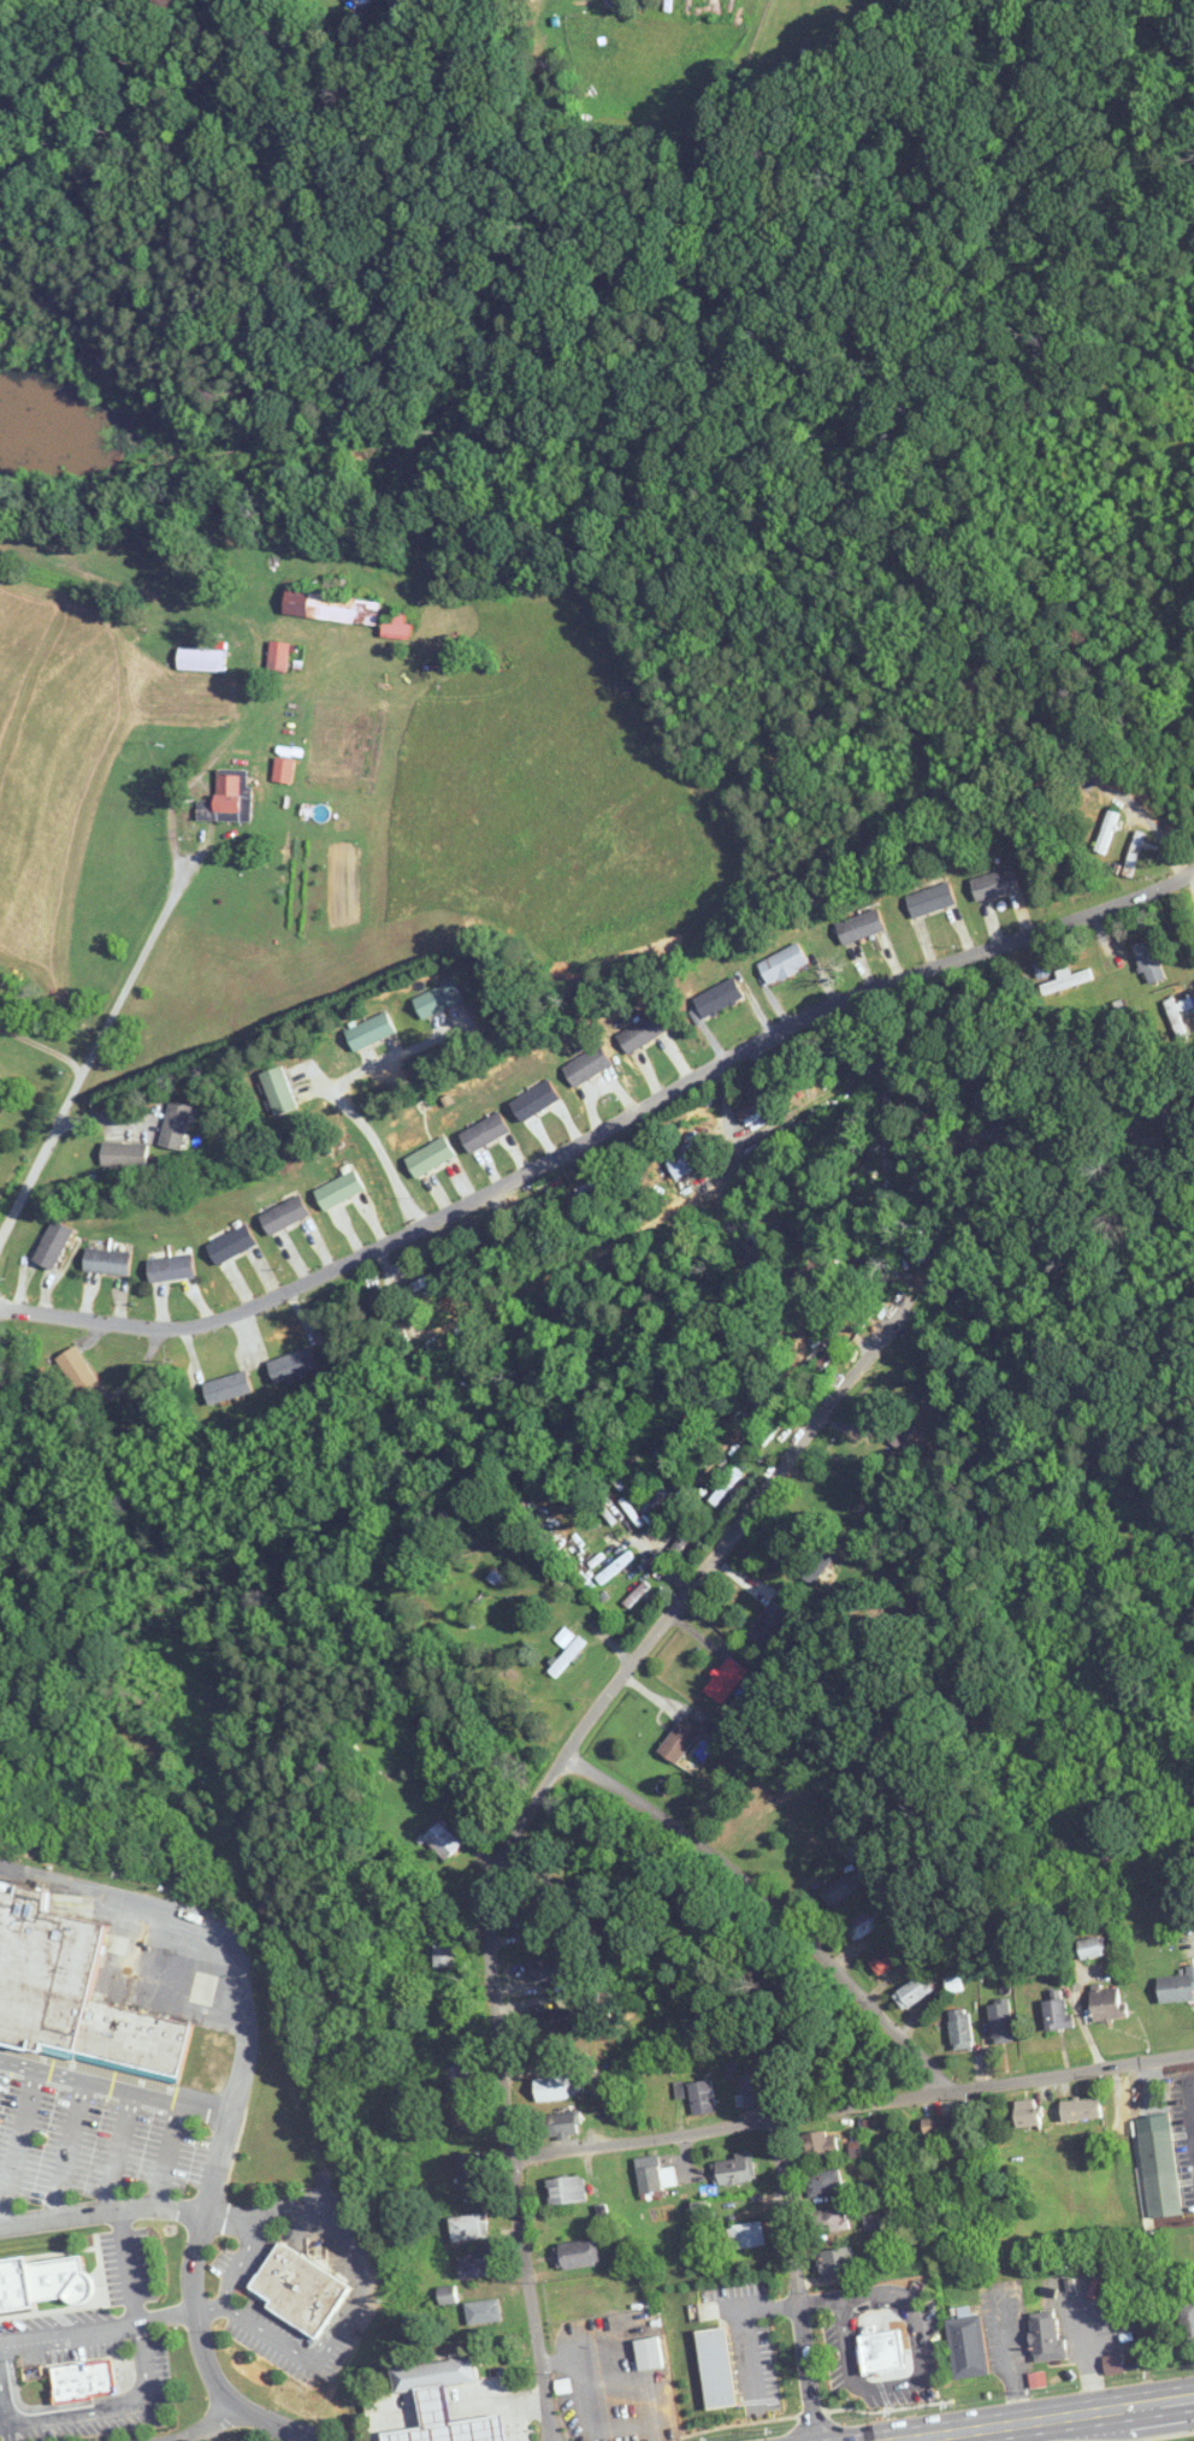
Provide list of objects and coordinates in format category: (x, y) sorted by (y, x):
building: (331, 608)
building: (396, 626)
building: (278, 656)
building: (201, 660)
building: (283, 770)
building: (772, 774)
building: (230, 794)
road: (1152, 823)
building: (1107, 832)
building: (1134, 855)
building: (995, 885)
building: (930, 900)
building: (861, 927)
road: (140, 959)
building: (1149, 961)
building: (782, 963)
building: (1066, 982)
building: (719, 997)
building: (438, 998)
building: (370, 1030)
building: (642, 1032)
building: (587, 1065)
building: (278, 1089)
road: (344, 1098)
building: (536, 1099)
building: (761, 1104)
building: (175, 1125)
building: (484, 1131)
road: (602, 1131)
road: (48, 1142)
building: (1145, 1147)
building: (124, 1154)
building: (430, 1157)
building: (684, 1159)
building: (339, 1189)
building: (284, 1214)
building: (516, 1235)
building: (52, 1243)
building: (231, 1243)
building: (106, 1260)
building: (170, 1267)
building: (291, 1364)
building: (82, 1379)
building: (227, 1387)
building: (899, 1434)
building: (656, 1497)
building: (593, 1538)
building: (817, 1560)
building: (615, 1567)
building: (769, 1625)
building: (567, 1650)
building: (727, 1680)
building: (679, 1740)
road: (522, 1818)
building: (803, 1832)
building: (442, 1839)
building: (1109, 1856)
building: (840, 1890)
road: (764, 1910)
building: (534, 1920)
building: (863, 1923)
road: (203, 1926)
building: (1093, 1948)
building: (444, 1956)
building: (888, 1958)
building: (550, 1968)
building: (43, 1973)
building: (1177, 1987)
building: (912, 1992)
building: (1106, 2003)
building: (1057, 2011)
building: (554, 2019)
building: (1001, 2022)
building: (960, 2029)
building: (132, 2041)
building: (459, 2079)
road: (114, 2087)
building: (552, 2088)
building: (753, 2090)
building: (703, 2097)
road: (852, 2106)
building: (1081, 2109)
building: (1027, 2112)
building: (463, 2118)
building: (561, 2124)
building: (944, 2127)
road: (17, 2144)
building: (817, 2144)
road: (66, 2150)
road: (119, 2151)
road: (166, 2155)
building: (468, 2167)
building: (734, 2169)
building: (1160, 2173)
building: (655, 2175)
building: (823, 2182)
building: (567, 2189)
road: (101, 2211)
building: (831, 2221)
building: (468, 2228)
building: (745, 2235)
building: (577, 2254)
building: (837, 2260)
road: (240, 2262)
building: (475, 2265)
road: (128, 2266)
road: (796, 2280)
road: (361, 2285)
building: (45, 2286)
building: (300, 2293)
road: (820, 2301)
road: (194, 2304)
building: (484, 2312)
building: (1187, 2318)
road: (97, 2329)
road: (741, 2331)
building: (1047, 2340)
building: (968, 2347)
building: (922, 2350)
building: (649, 2353)
building: (882, 2357)
building: (435, 2374)
road: (916, 2377)
building: (81, 2386)
building: (838, 2392)
road: (97, 2407)
road: (1045, 2418)
building: (448, 2422)
gas station: (448, 2422)
road: (209, 2425)
road: (914, 2440)

